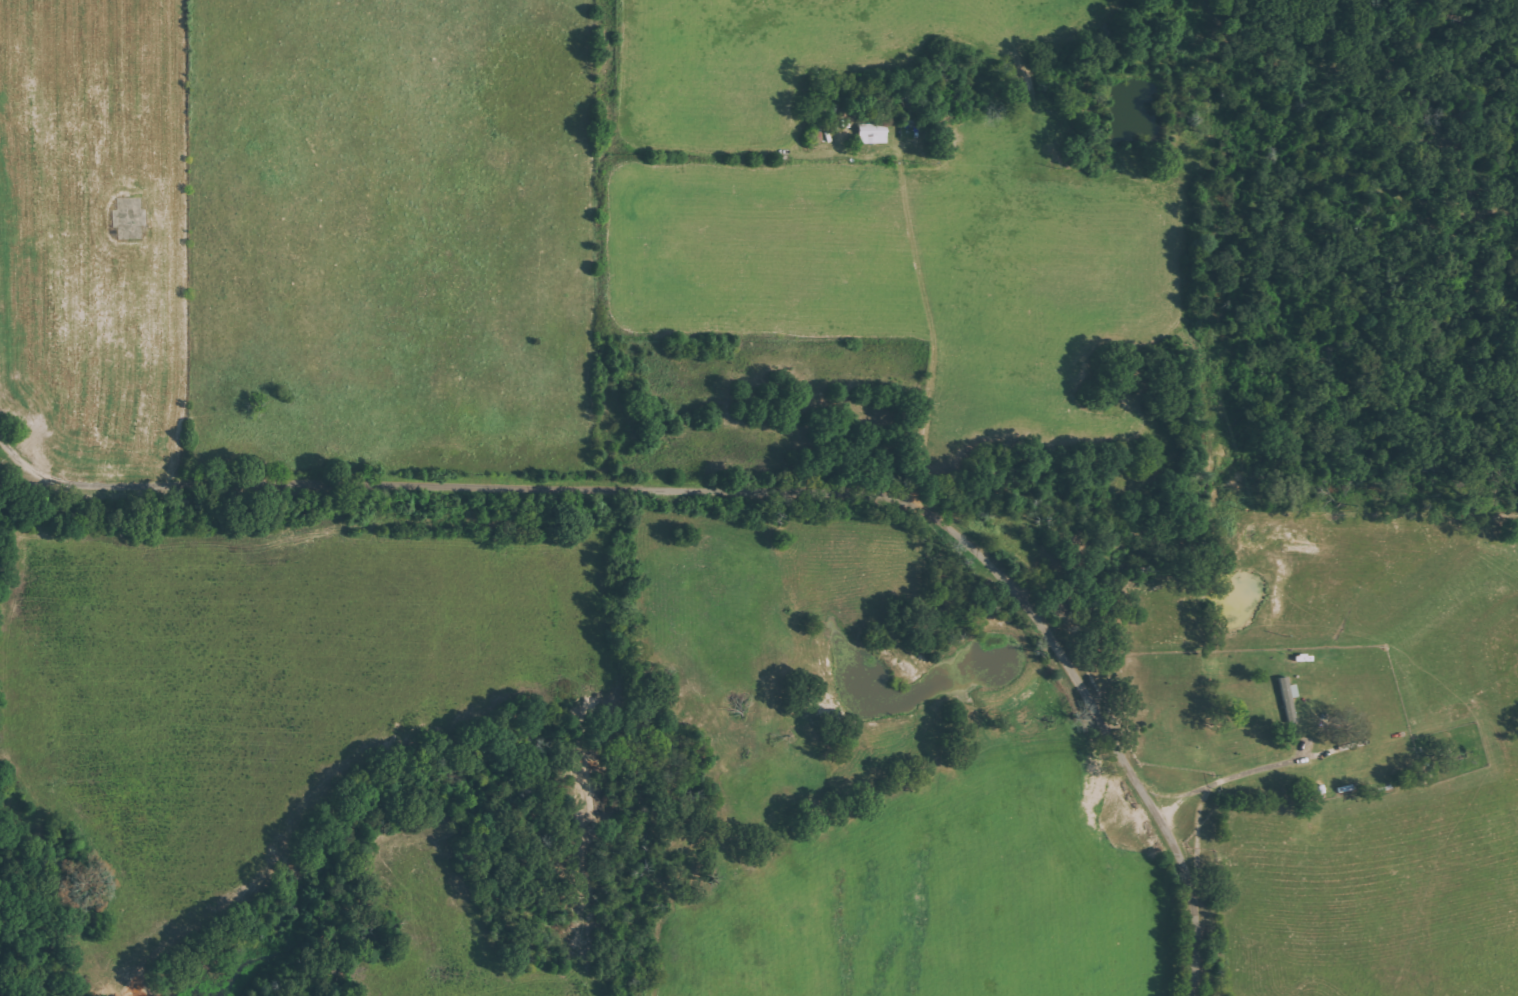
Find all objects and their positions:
building: (874, 133)
road: (617, 244)
road: (743, 486)

